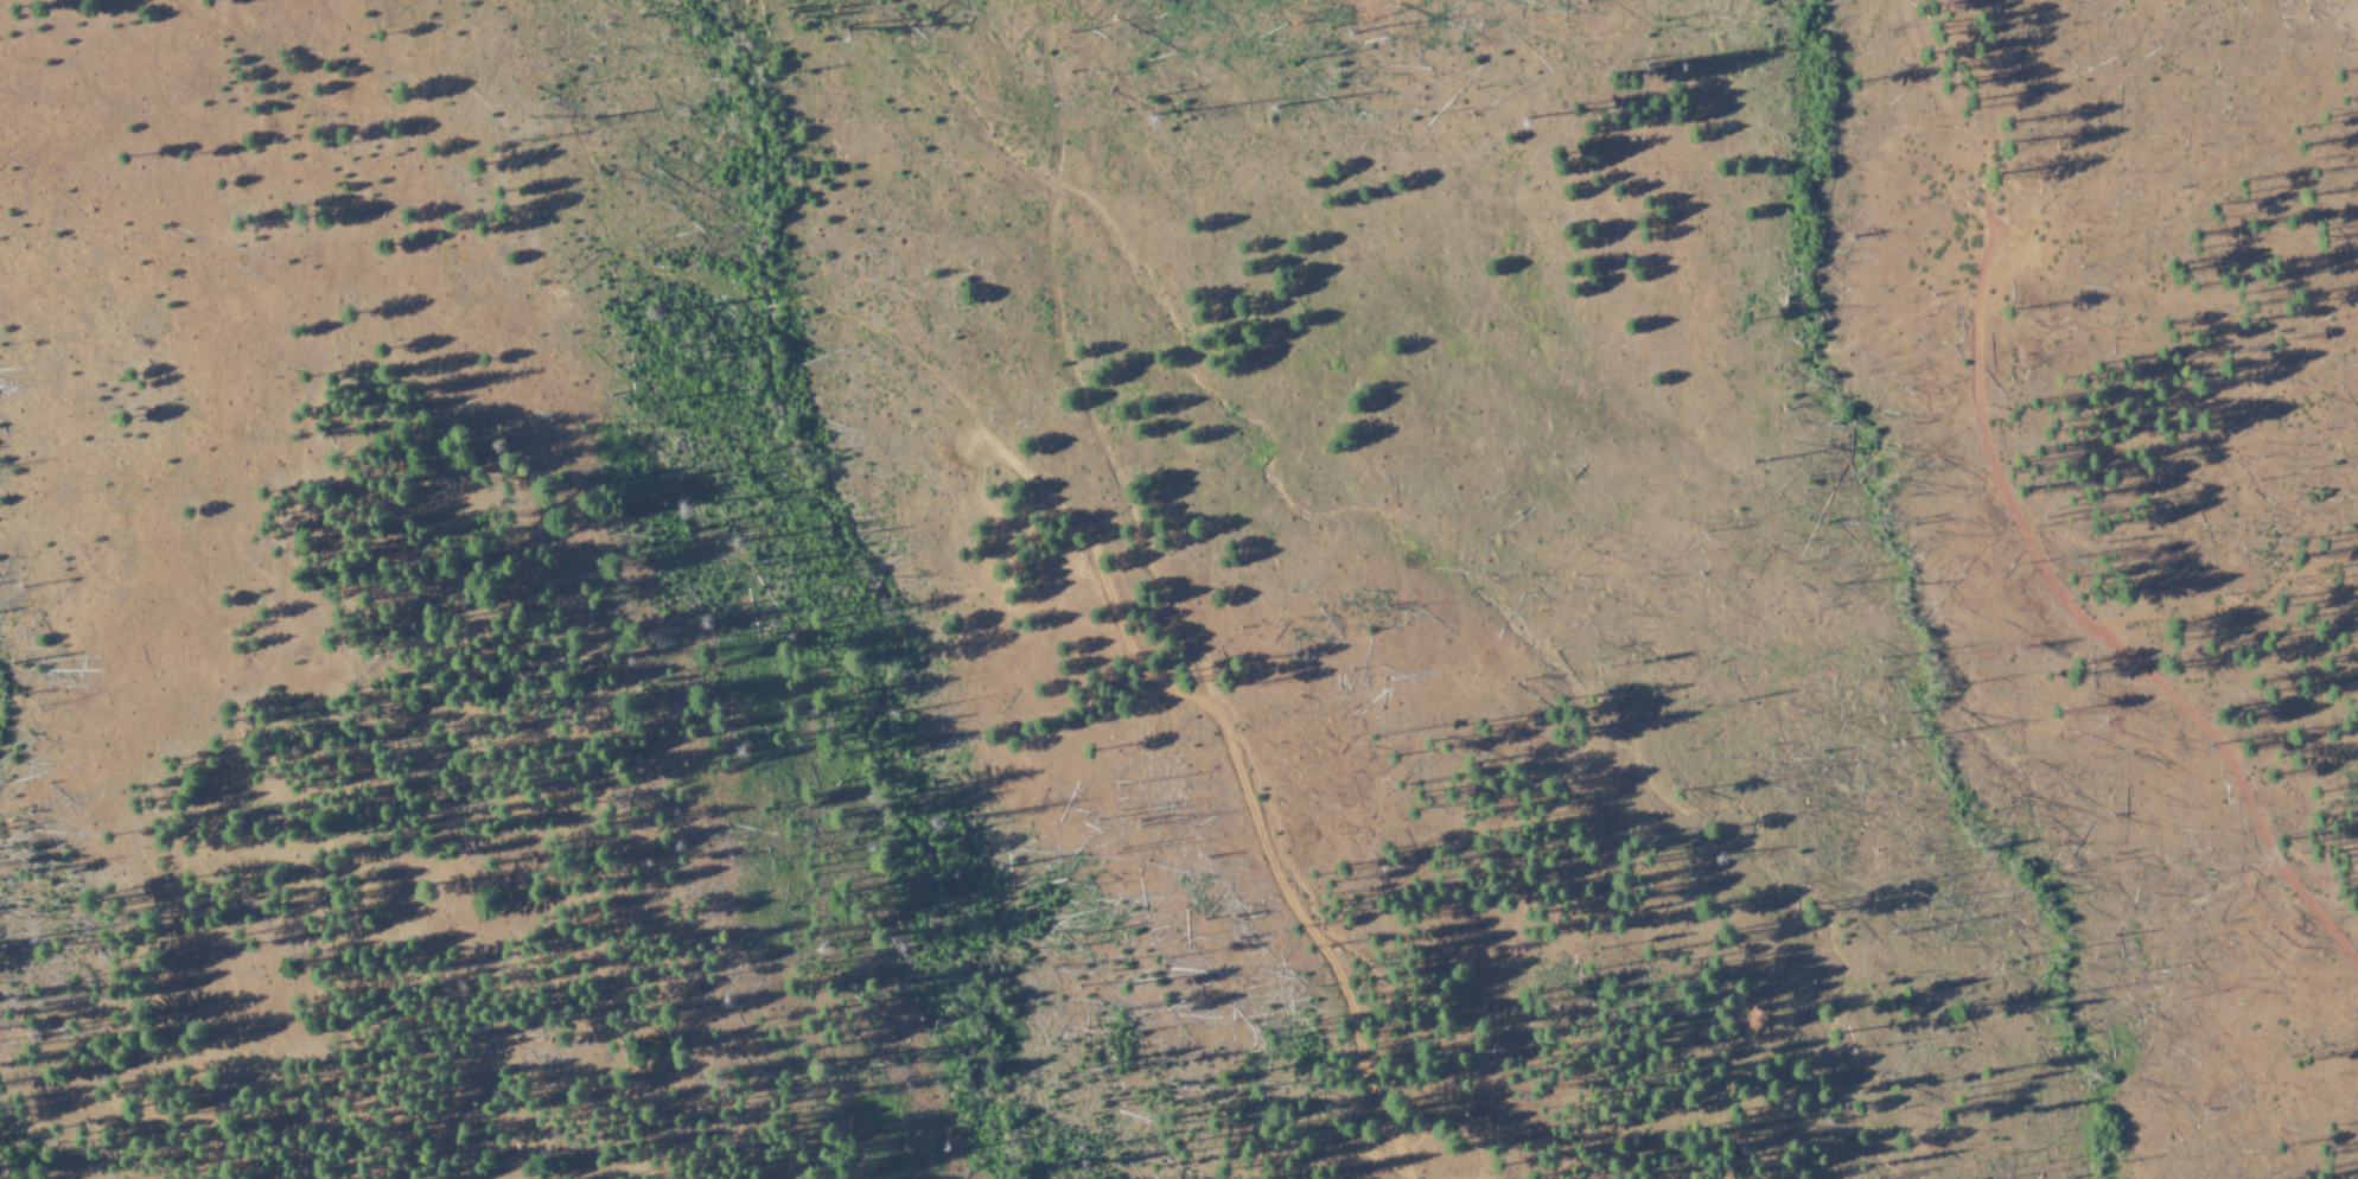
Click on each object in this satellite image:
road: (2083, 617)
road: (1319, 919)

